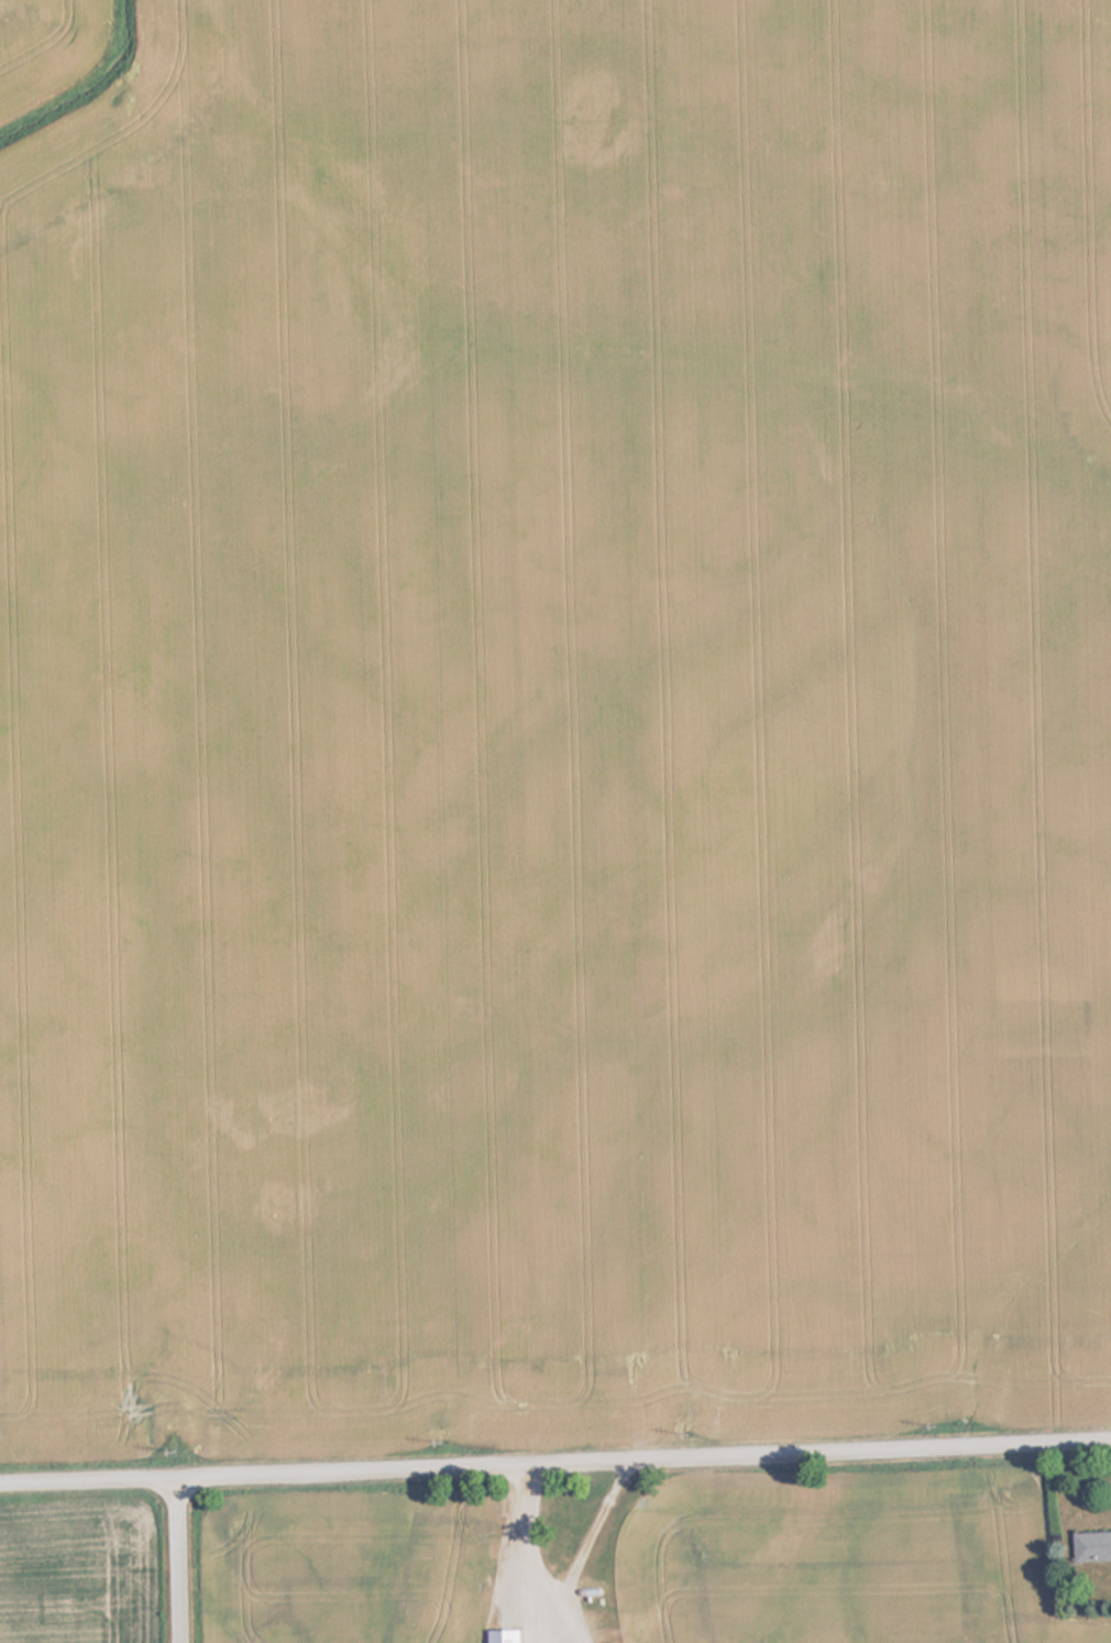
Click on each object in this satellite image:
road: (555, 1464)
building: (1090, 1547)
road: (185, 1560)
building: (502, 1636)

